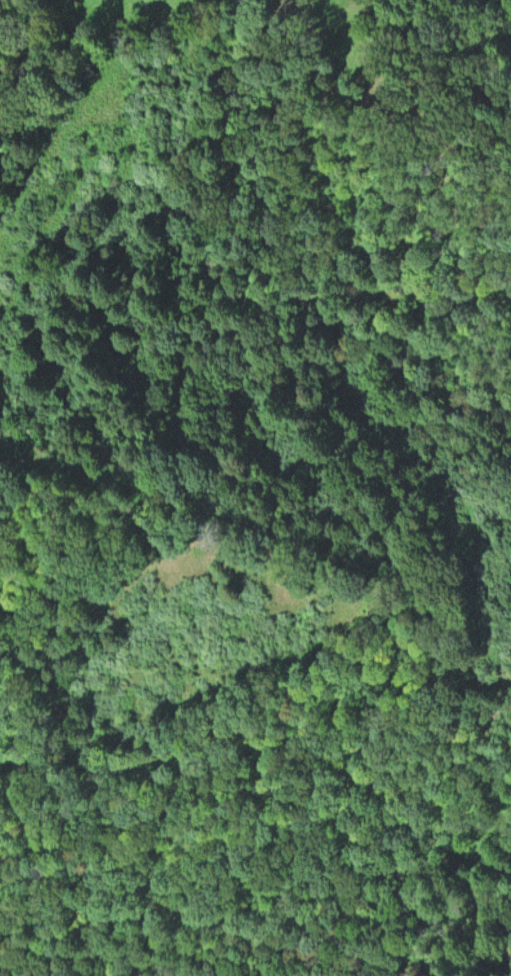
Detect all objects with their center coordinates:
road: (50, 141)
road: (267, 520)
road: (484, 837)

